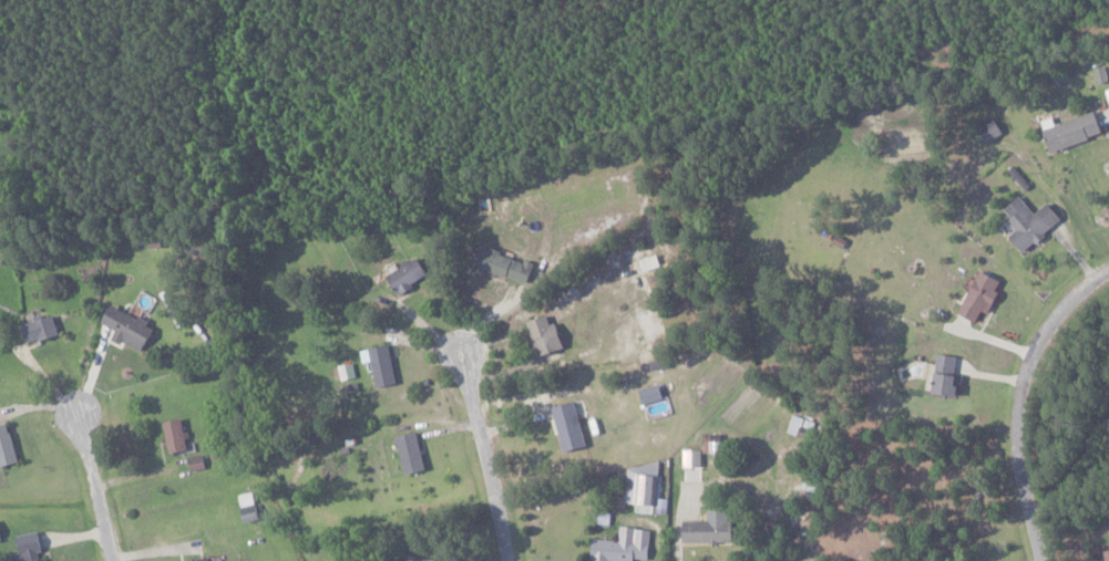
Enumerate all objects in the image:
building: (1107, 93)
building: (989, 128)
building: (1071, 129)
building: (1030, 221)
building: (649, 262)
building: (503, 264)
building: (407, 274)
building: (979, 295)
building: (127, 328)
building: (40, 329)
building: (544, 334)
building: (380, 364)
building: (945, 375)
building: (650, 393)
road: (1017, 399)
building: (568, 426)
building: (175, 435)
building: (7, 447)
building: (410, 451)
road: (483, 451)
building: (195, 461)
building: (691, 465)
road: (94, 481)
building: (645, 492)
building: (709, 528)
road: (678, 534)
building: (0, 539)
building: (623, 546)
building: (29, 548)
building: (1103, 555)
building: (203, 560)
building: (425, 560)

